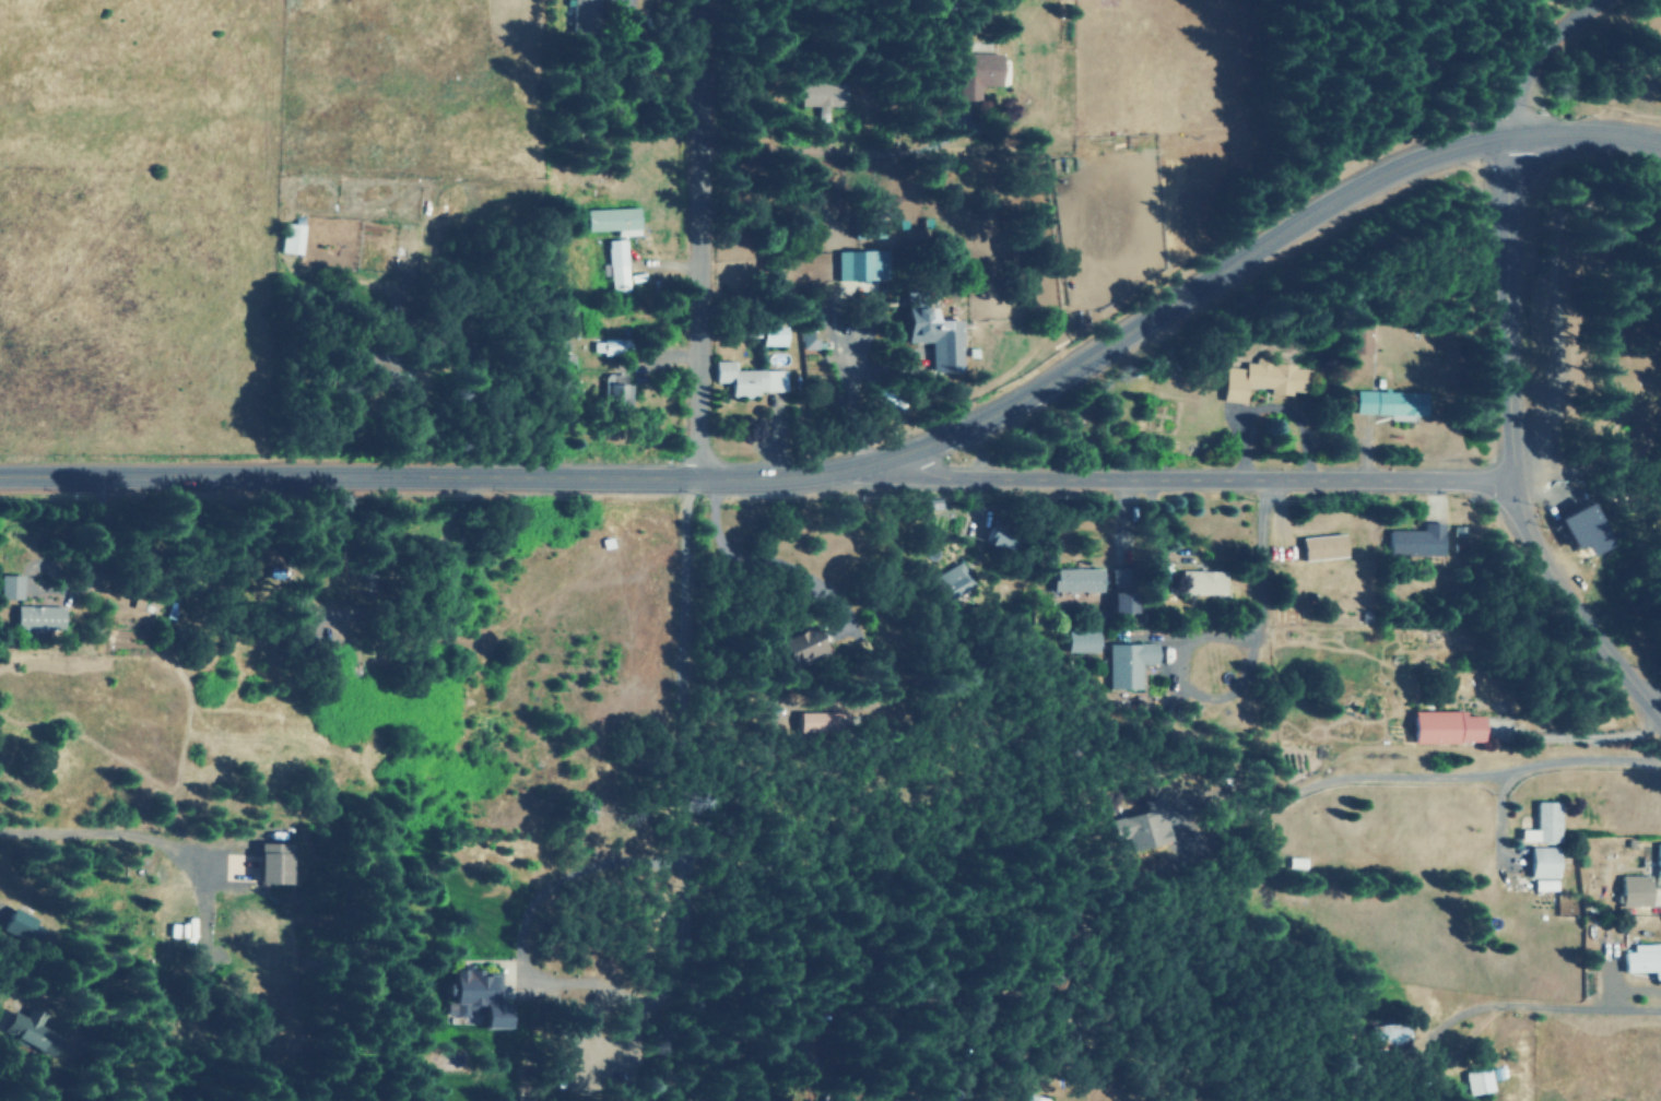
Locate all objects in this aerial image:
building: (581, 14)
road: (1504, 52)
building: (976, 72)
building: (821, 98)
road: (794, 210)
building: (612, 220)
building: (290, 236)
road: (693, 238)
building: (616, 264)
building: (861, 264)
road: (1551, 295)
park: (1593, 323)
building: (773, 335)
building: (932, 335)
building: (1357, 335)
building: (811, 341)
building: (606, 346)
building: (749, 378)
building: (1261, 379)
building: (615, 390)
building: (1389, 402)
road: (1510, 448)
road: (873, 465)
road: (1607, 472)
road: (1531, 474)
road: (1203, 476)
building: (1581, 528)
building: (1416, 540)
building: (997, 541)
building: (1322, 546)
building: (1076, 579)
building: (951, 580)
building: (1201, 581)
building: (10, 585)
building: (1120, 590)
building: (37, 617)
road: (1213, 630)
building: (1081, 640)
building: (799, 644)
building: (1128, 663)
building: (821, 721)
building: (1444, 726)
building: (1543, 824)
road: (67, 828)
building: (1138, 829)
building: (1296, 862)
building: (1542, 862)
building: (269, 863)
building: (1658, 865)
building: (1543, 884)
building: (1634, 890)
building: (17, 925)
building: (1644, 959)
building: (476, 997)
building: (36, 1031)
building: (1386, 1035)
road: (1382, 1037)
building: (1477, 1080)

